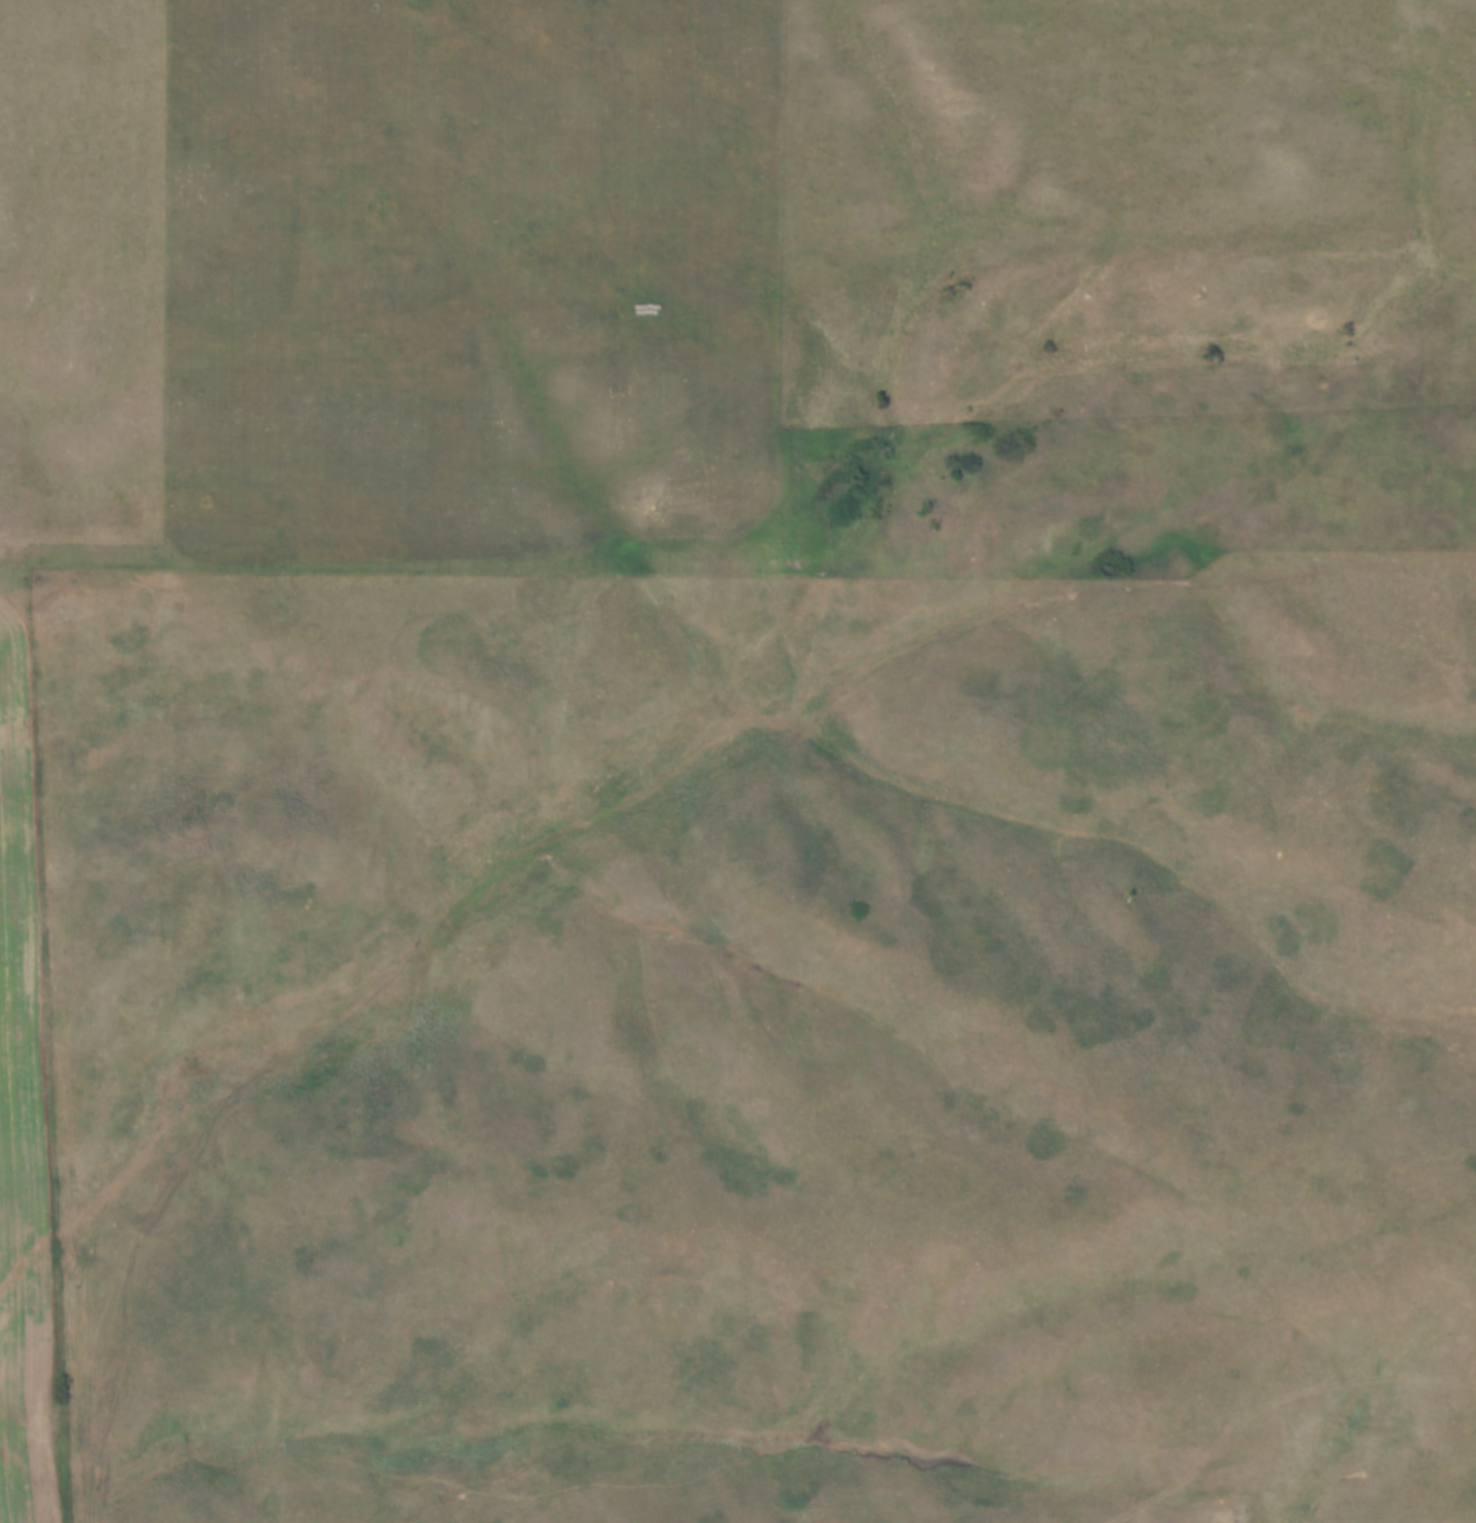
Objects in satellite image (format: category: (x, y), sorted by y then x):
road: (1273, 1400)

